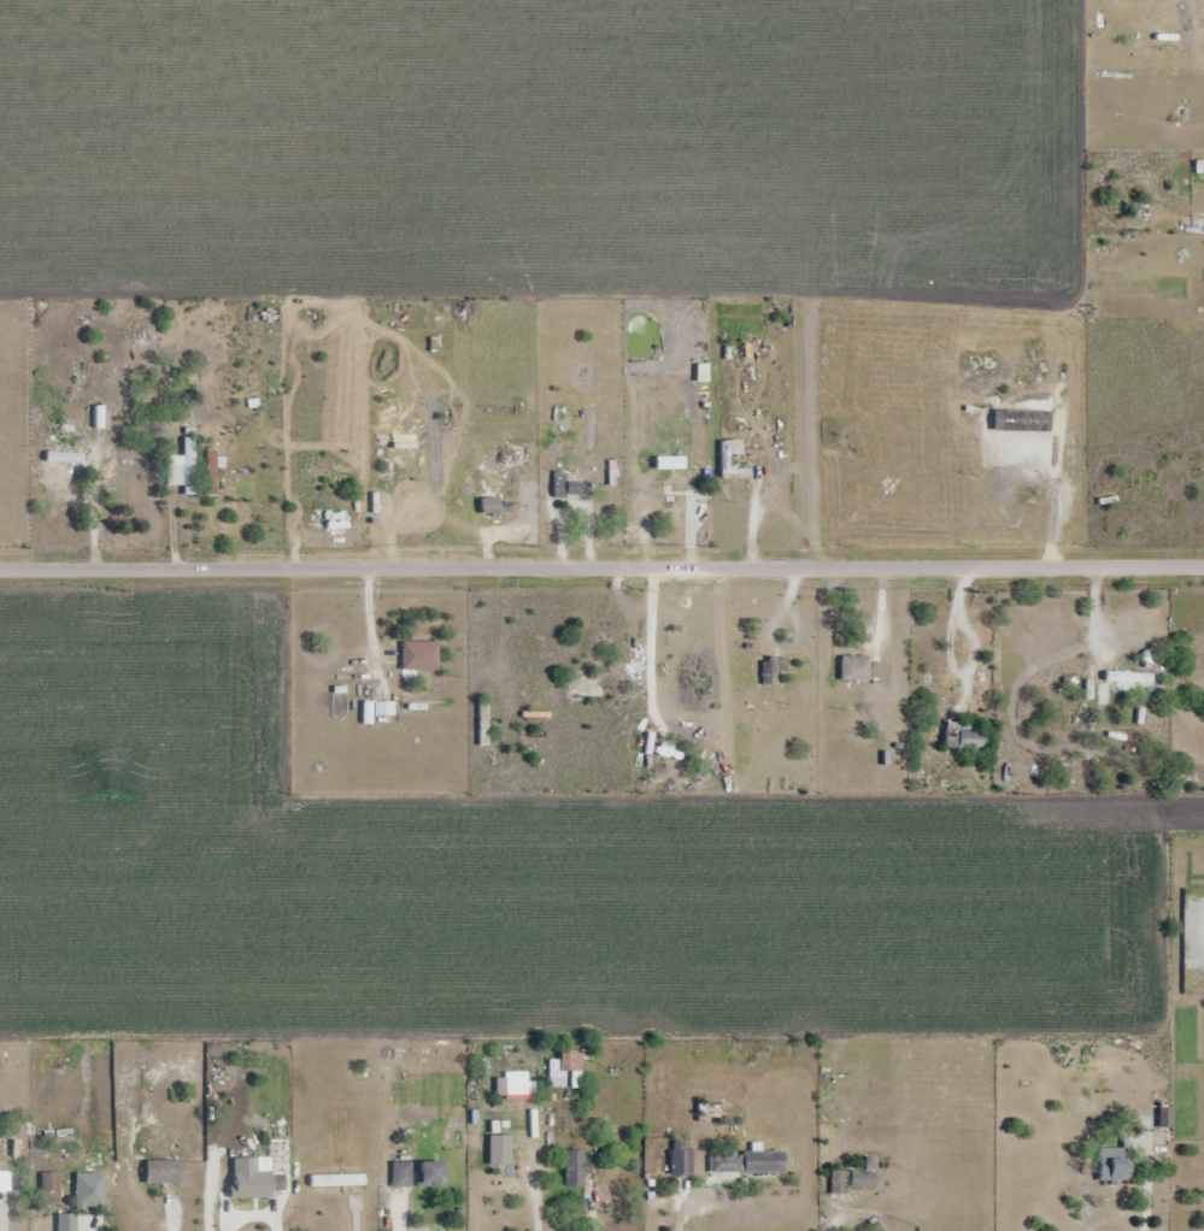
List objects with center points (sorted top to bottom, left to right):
building: (1184, 29)
building: (591, 426)
building: (64, 457)
building: (664, 463)
building: (182, 467)
building: (212, 471)
building: (564, 485)
building: (491, 502)
road: (601, 569)
building: (419, 656)
building: (854, 667)
building: (771, 670)
building: (965, 735)
building: (566, 1070)
building: (1163, 1136)
building: (681, 1162)
building: (764, 1162)
building: (726, 1164)
building: (1115, 1165)
building: (574, 1170)
building: (163, 1172)
building: (401, 1174)
building: (431, 1174)
building: (336, 1182)
building: (851, 1182)
building: (259, 1183)
building: (90, 1194)
building: (66, 1223)

